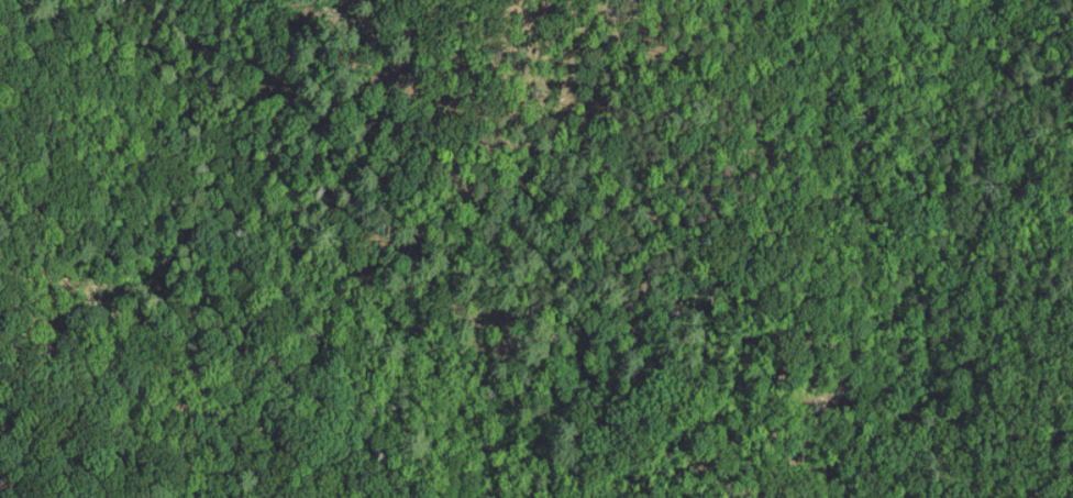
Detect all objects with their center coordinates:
road: (357, 265)
road: (19, 473)

